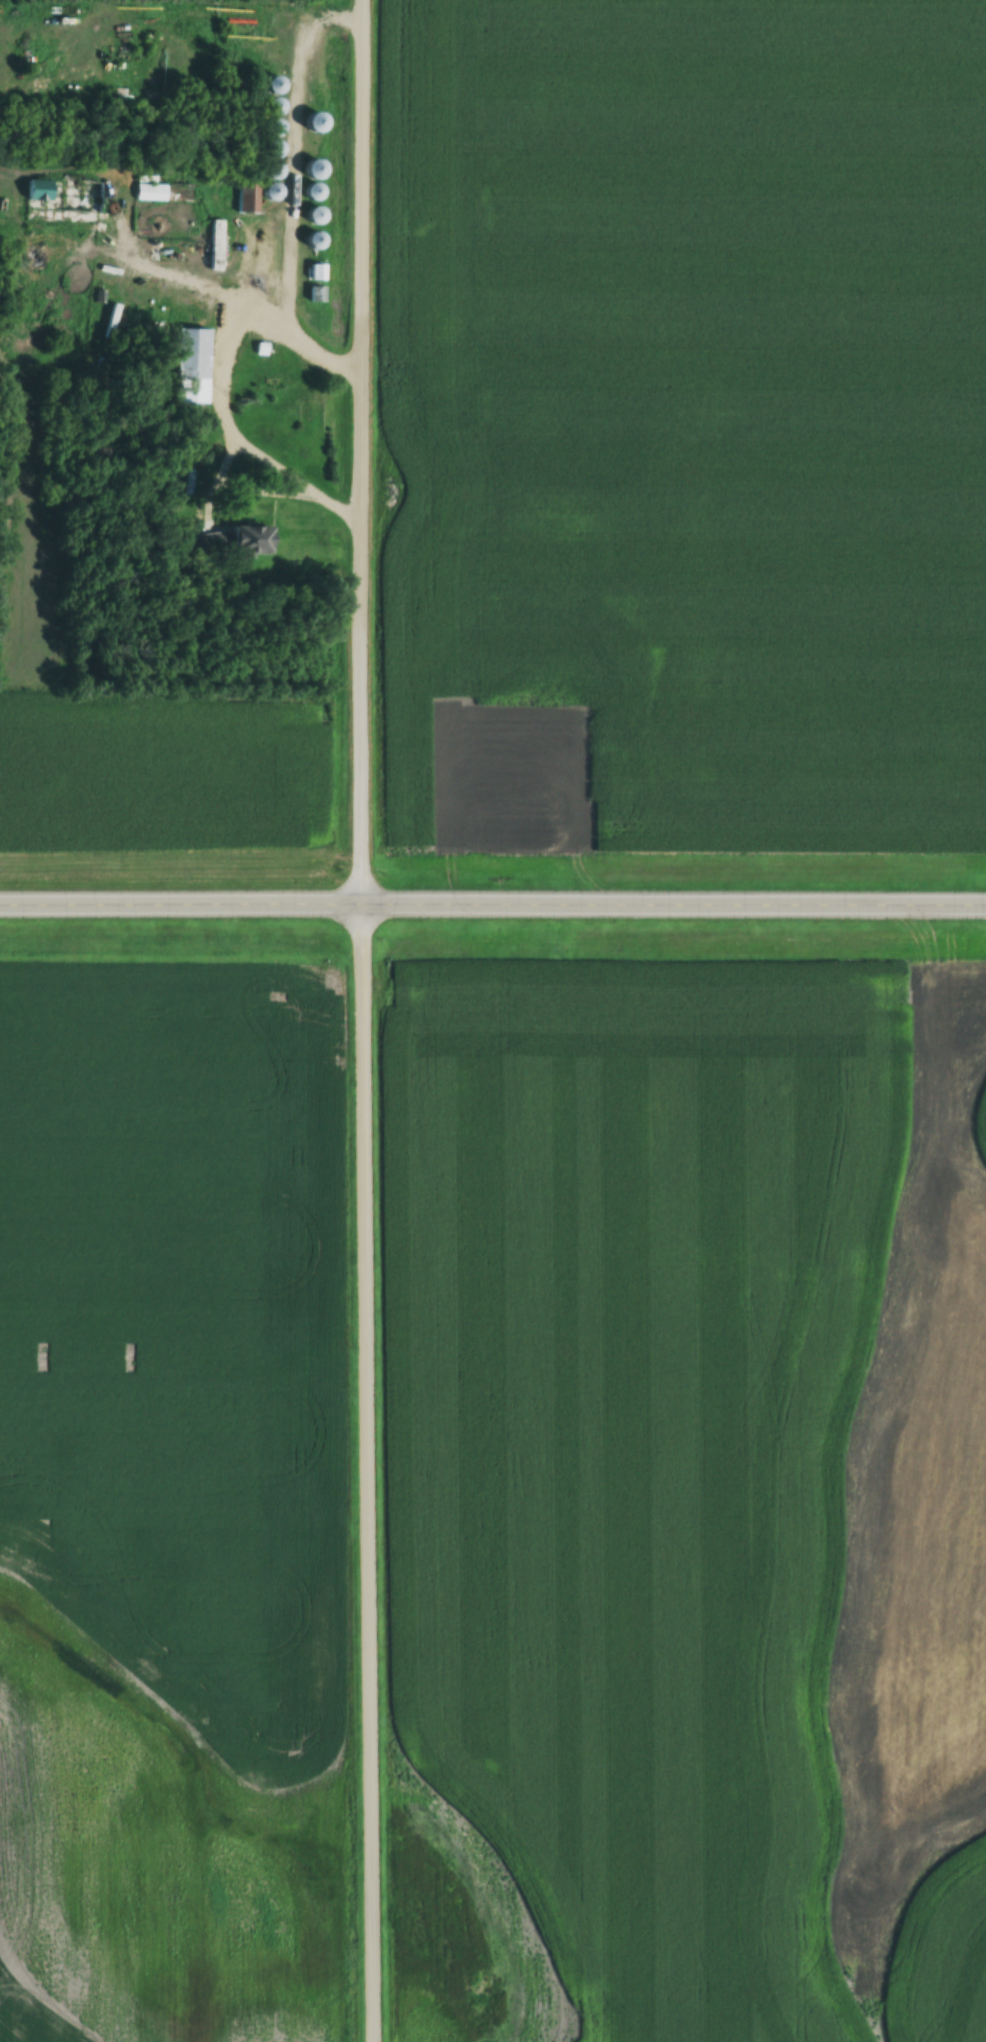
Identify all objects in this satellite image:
building: (270, 85)
building: (270, 107)
building: (310, 123)
building: (269, 129)
building: (270, 152)
building: (310, 170)
building: (268, 171)
building: (45, 192)
building: (310, 192)
building: (147, 193)
building: (245, 198)
building: (310, 217)
building: (310, 242)
building: (214, 246)
building: (314, 273)
building: (314, 295)
building: (190, 366)
building: (236, 539)
road: (493, 900)
road: (359, 1021)

